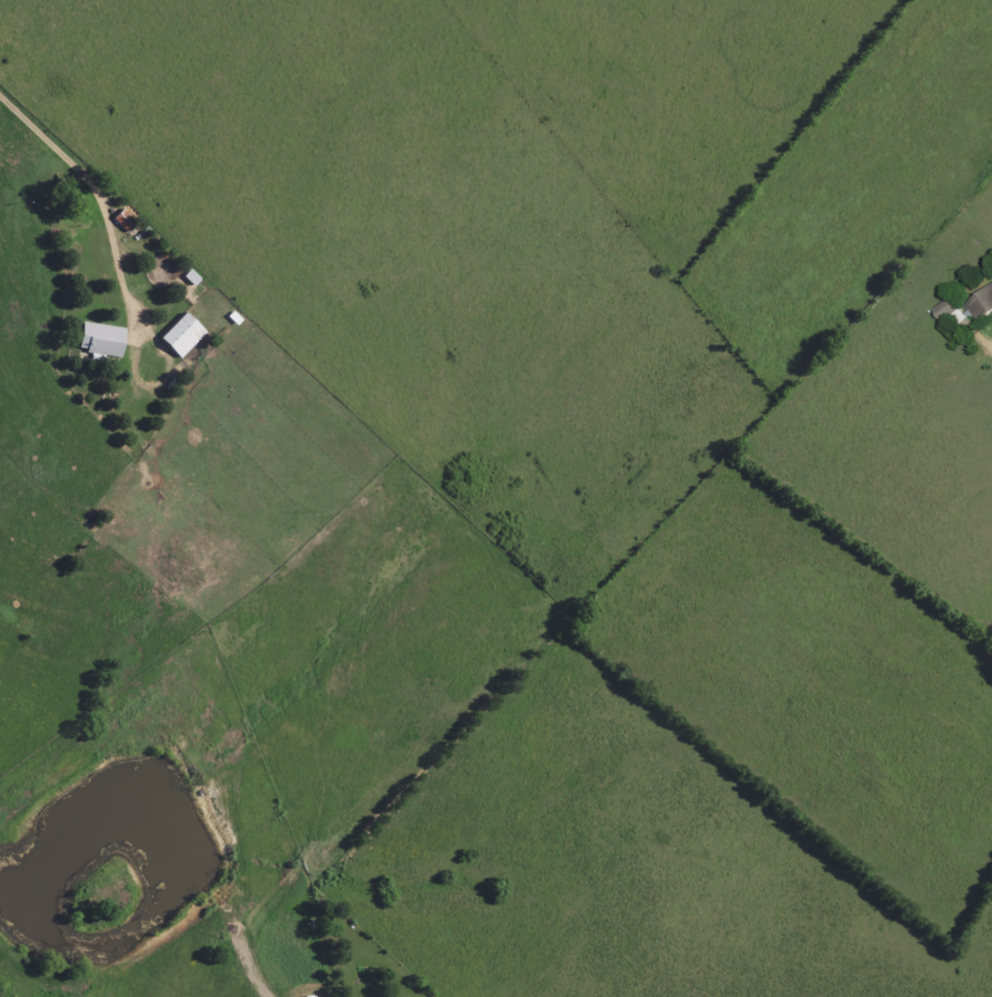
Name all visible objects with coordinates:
road: (100, 195)
building: (126, 221)
building: (982, 306)
building: (950, 311)
building: (184, 336)
building: (103, 341)

